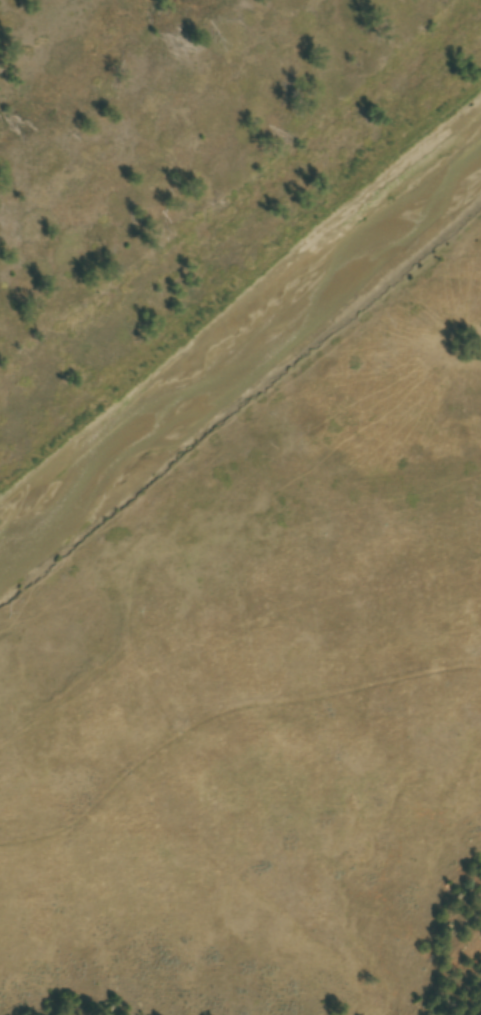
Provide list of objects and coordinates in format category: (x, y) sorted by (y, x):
park: (194, 199)
river: (237, 359)

